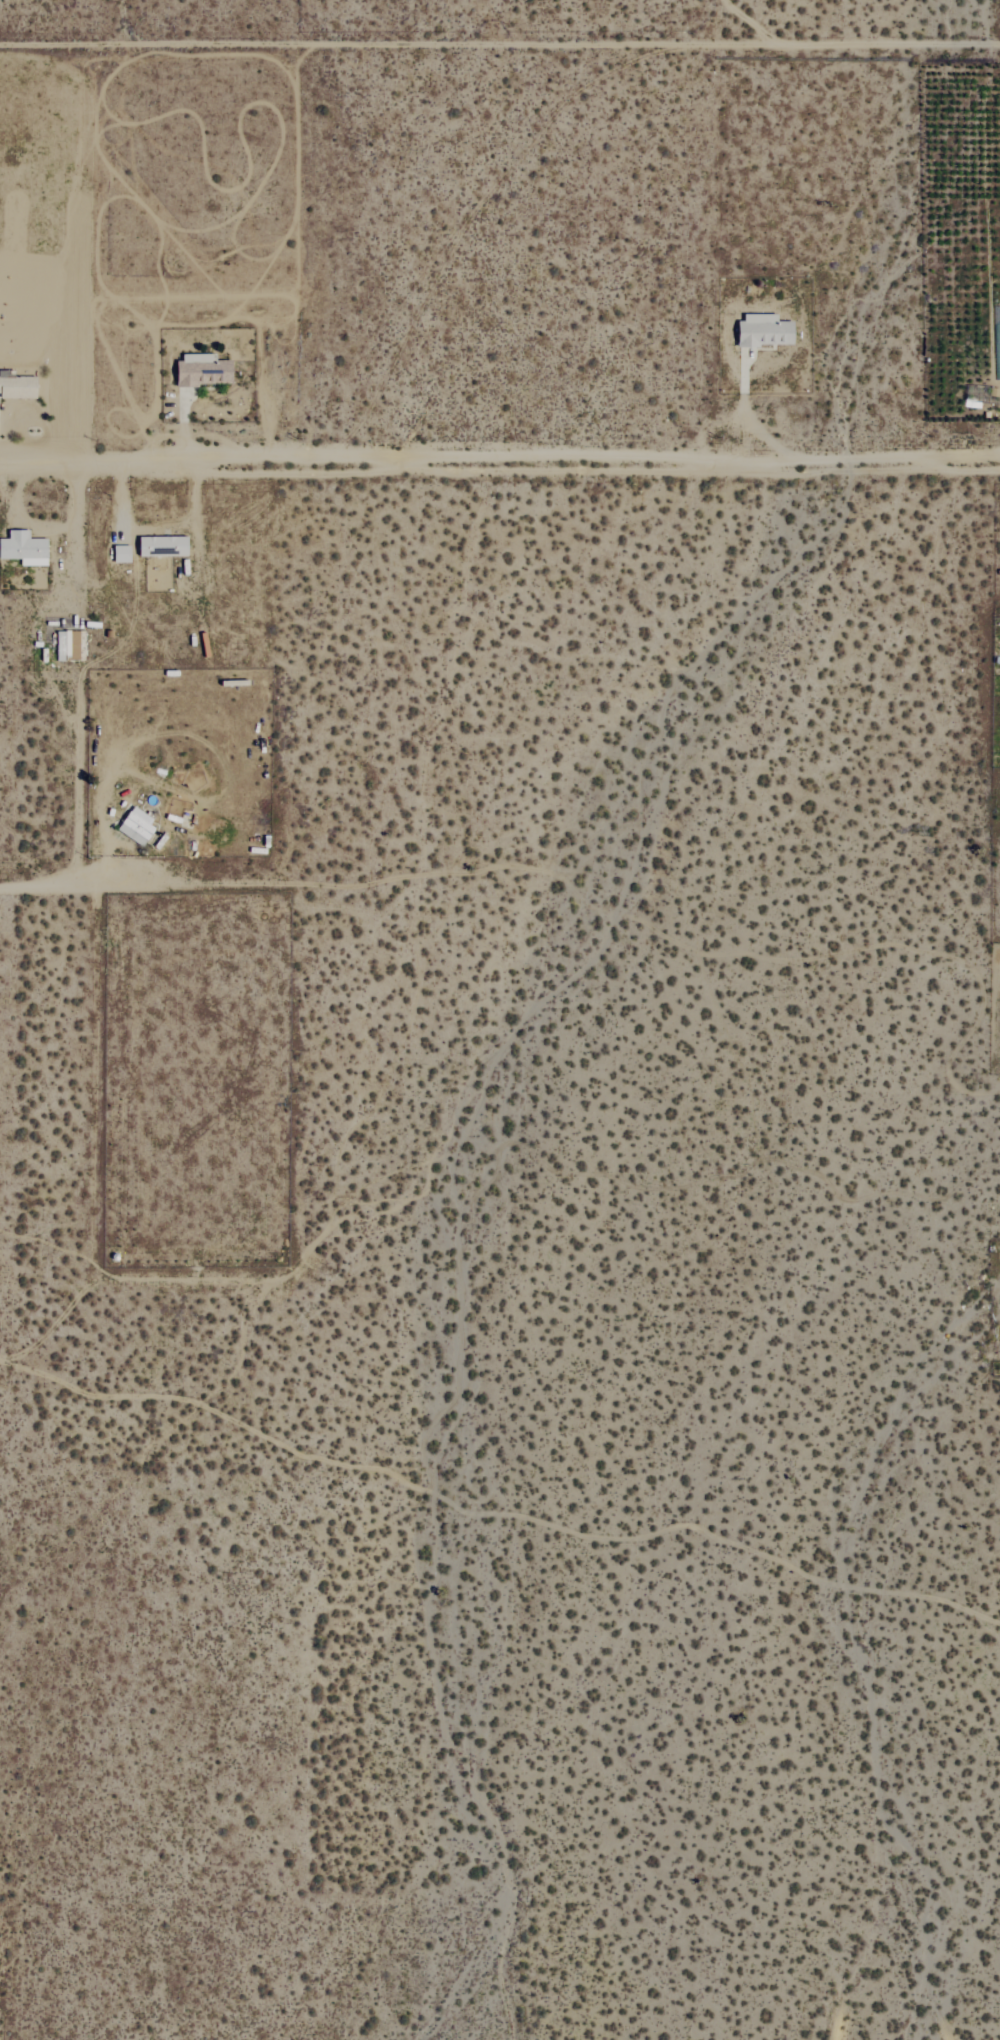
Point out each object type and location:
road: (749, 19)
road: (500, 42)
building: (761, 331)
building: (199, 370)
building: (17, 386)
road: (747, 416)
road: (188, 429)
road: (499, 463)
road: (24, 486)
road: (51, 525)
road: (158, 525)
building: (159, 546)
building: (22, 548)
building: (118, 554)
building: (64, 645)
road: (78, 726)
building: (134, 826)
road: (171, 884)
road: (33, 886)

